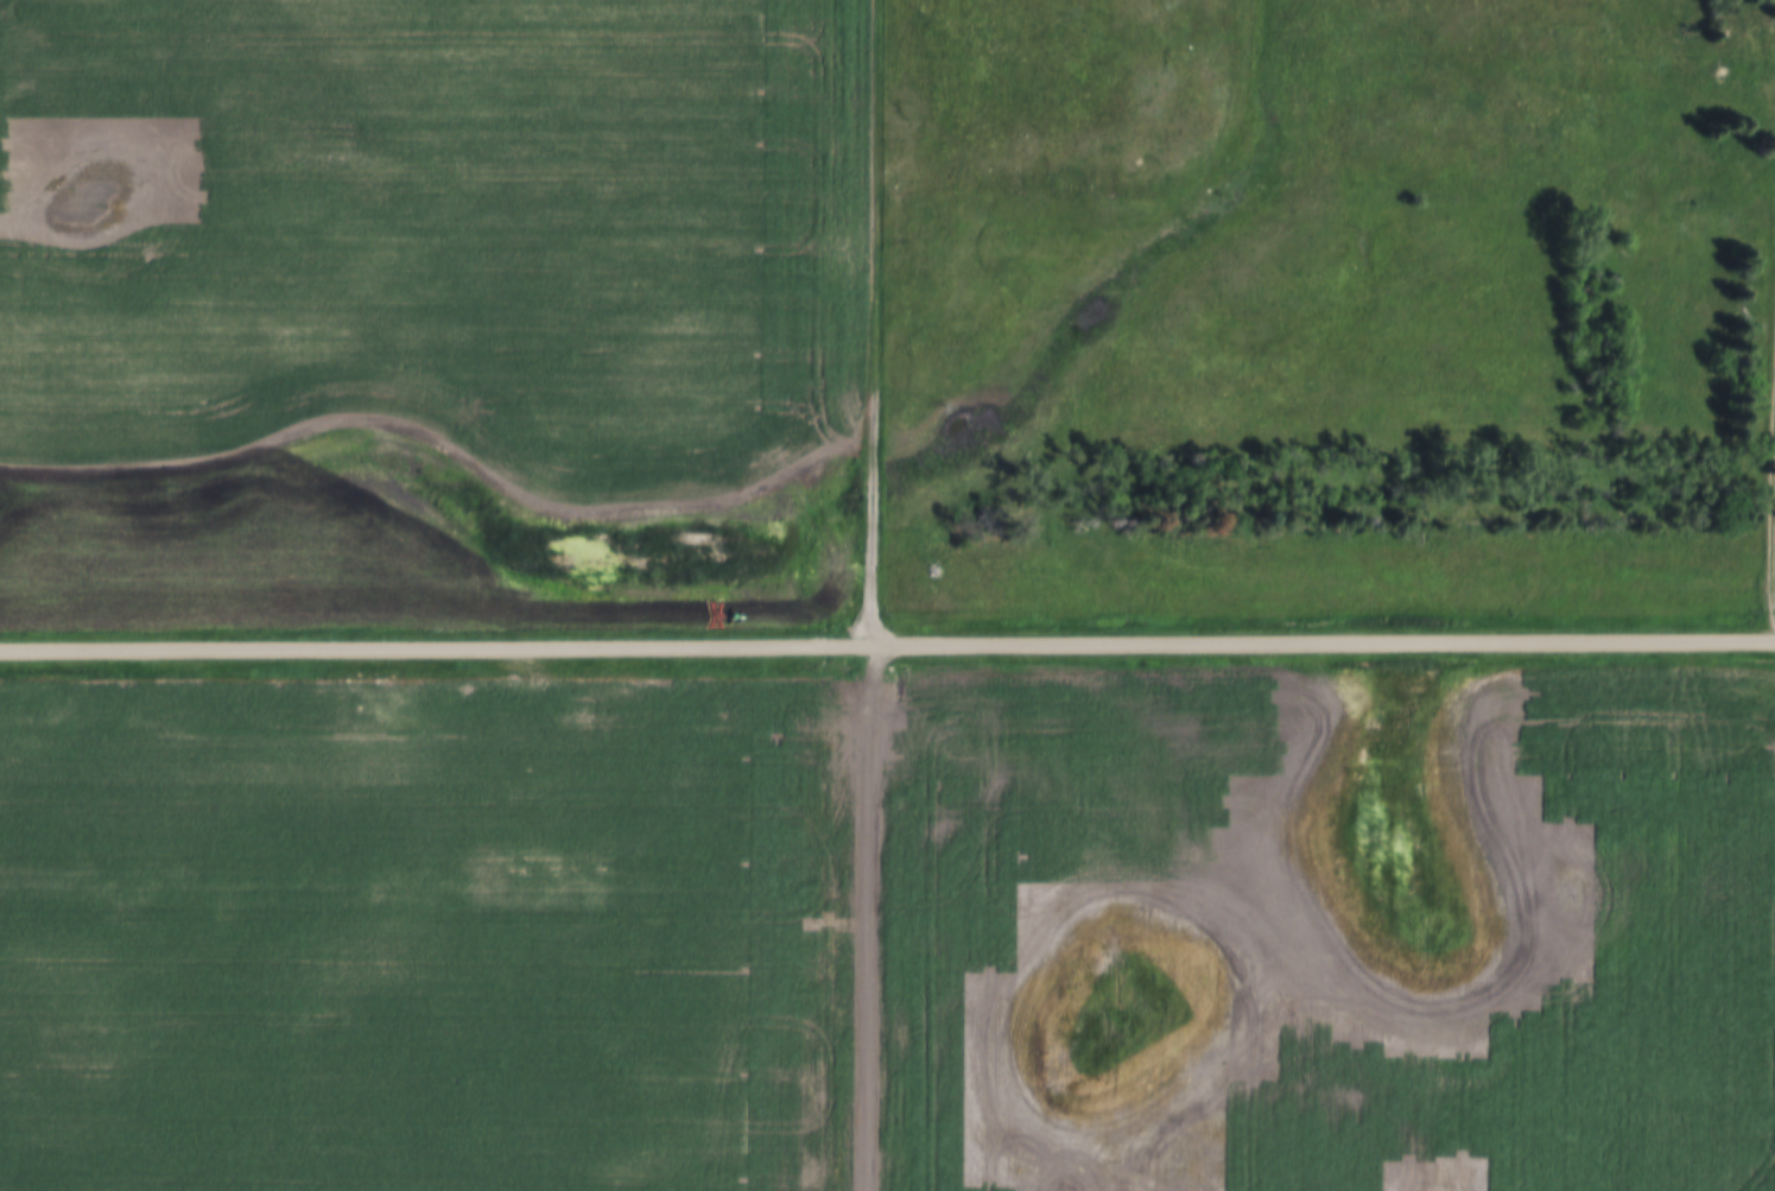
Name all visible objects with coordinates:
road: (1774, 576)
road: (885, 595)
road: (887, 648)

